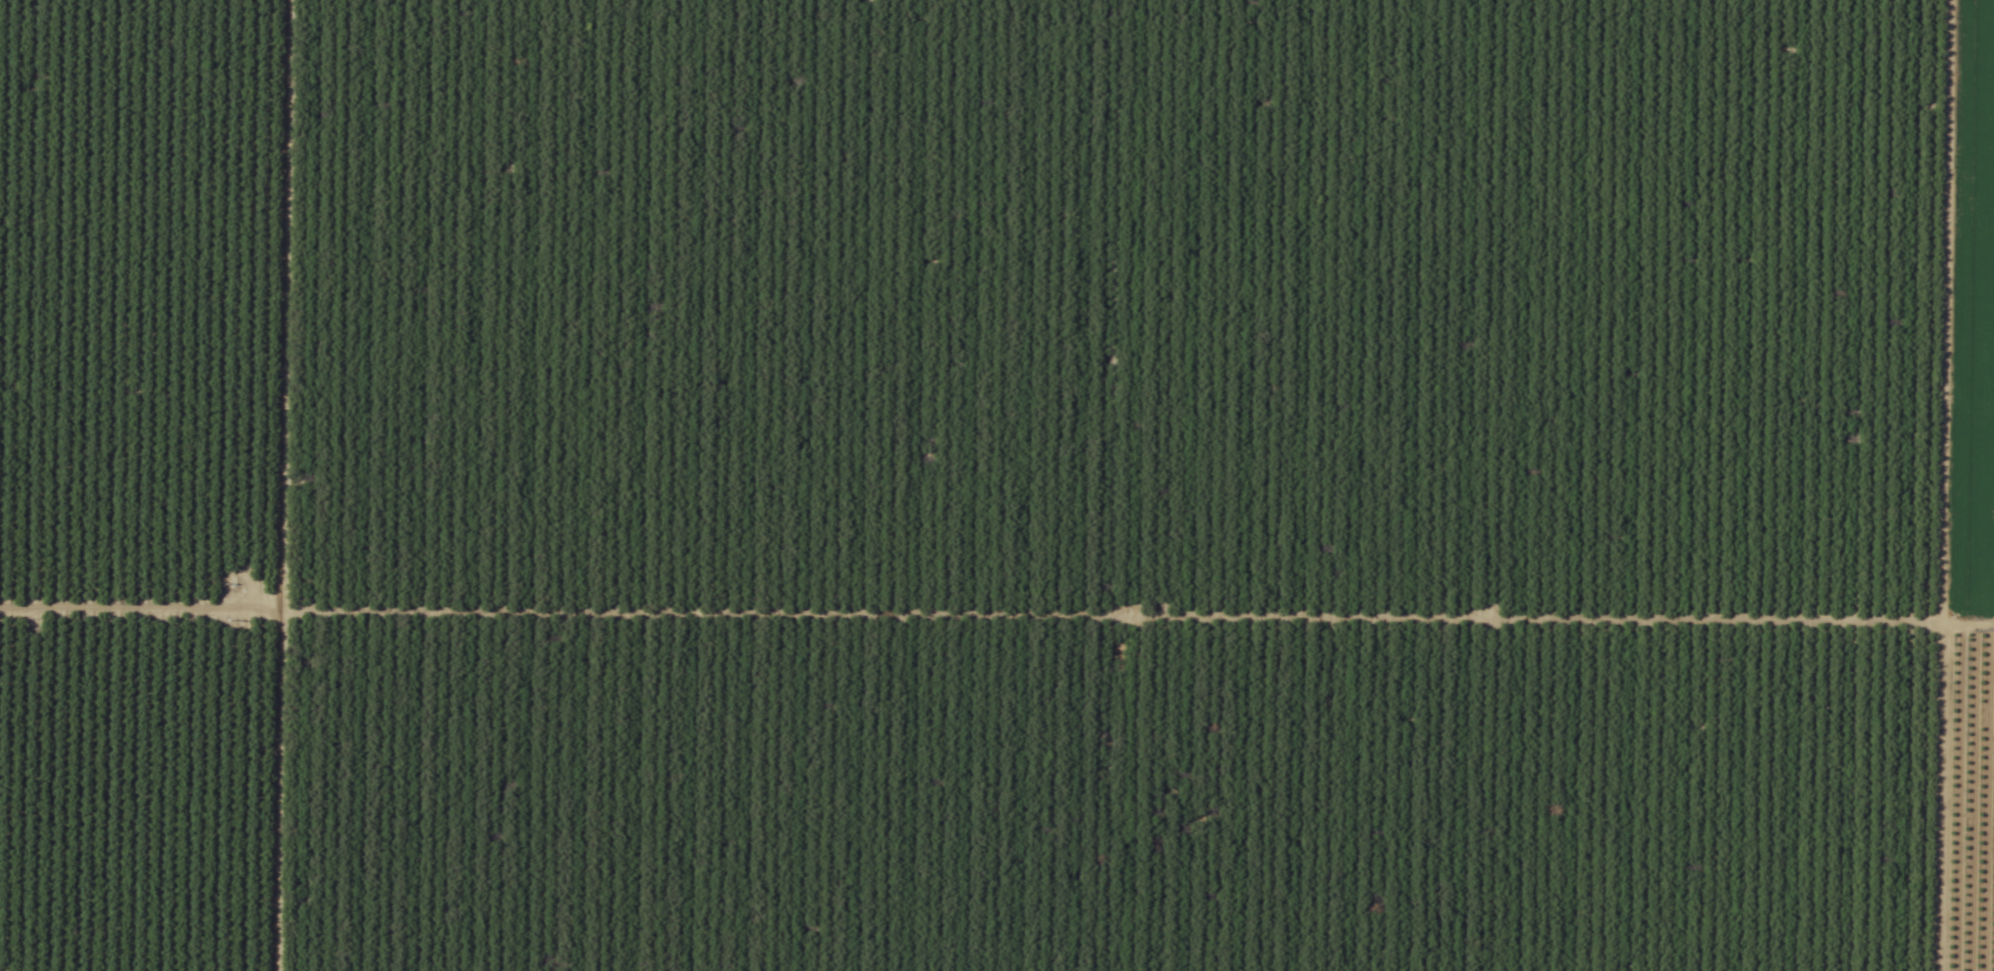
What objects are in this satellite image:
crop: (1967, 323)
road: (293, 485)

